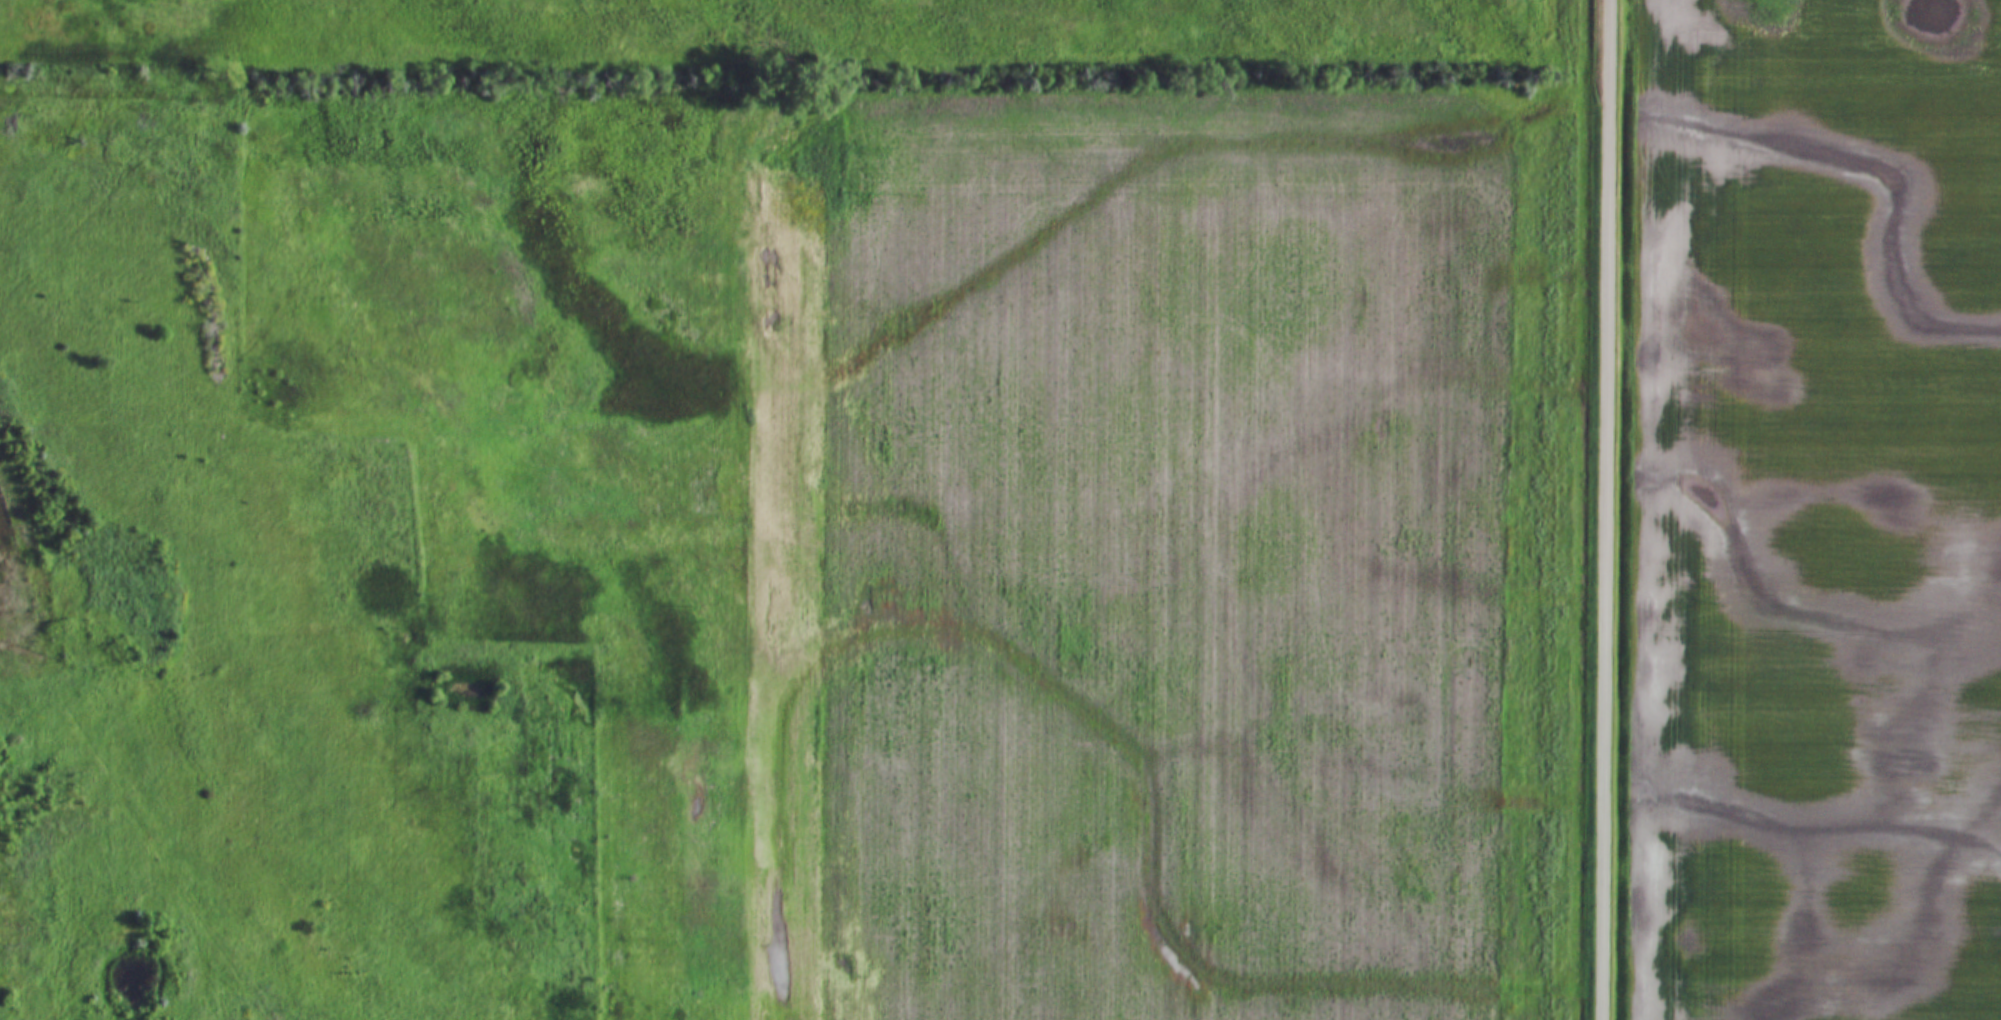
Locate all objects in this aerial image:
road: (1610, 510)

